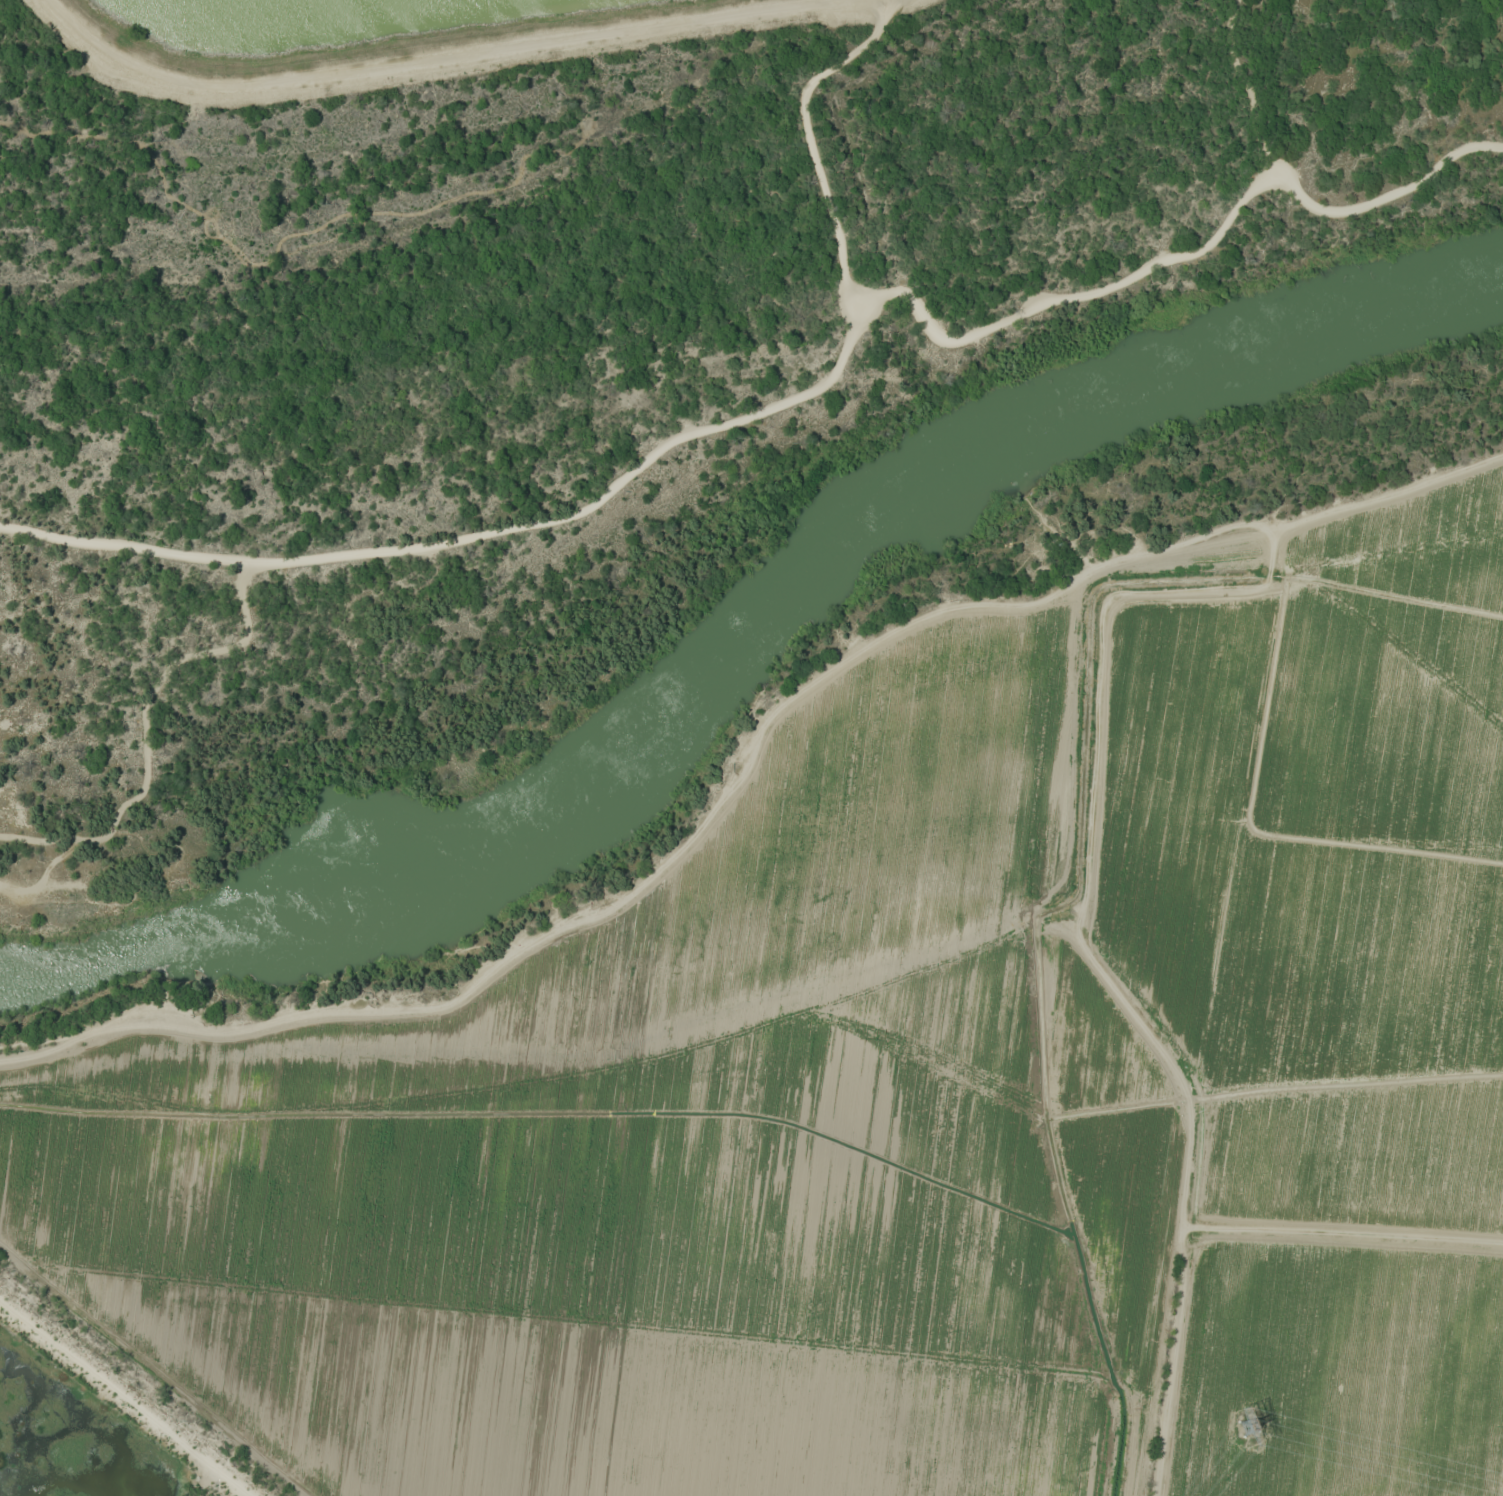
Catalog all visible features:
river: (751, 626)
power tower: (1245, 1422)

